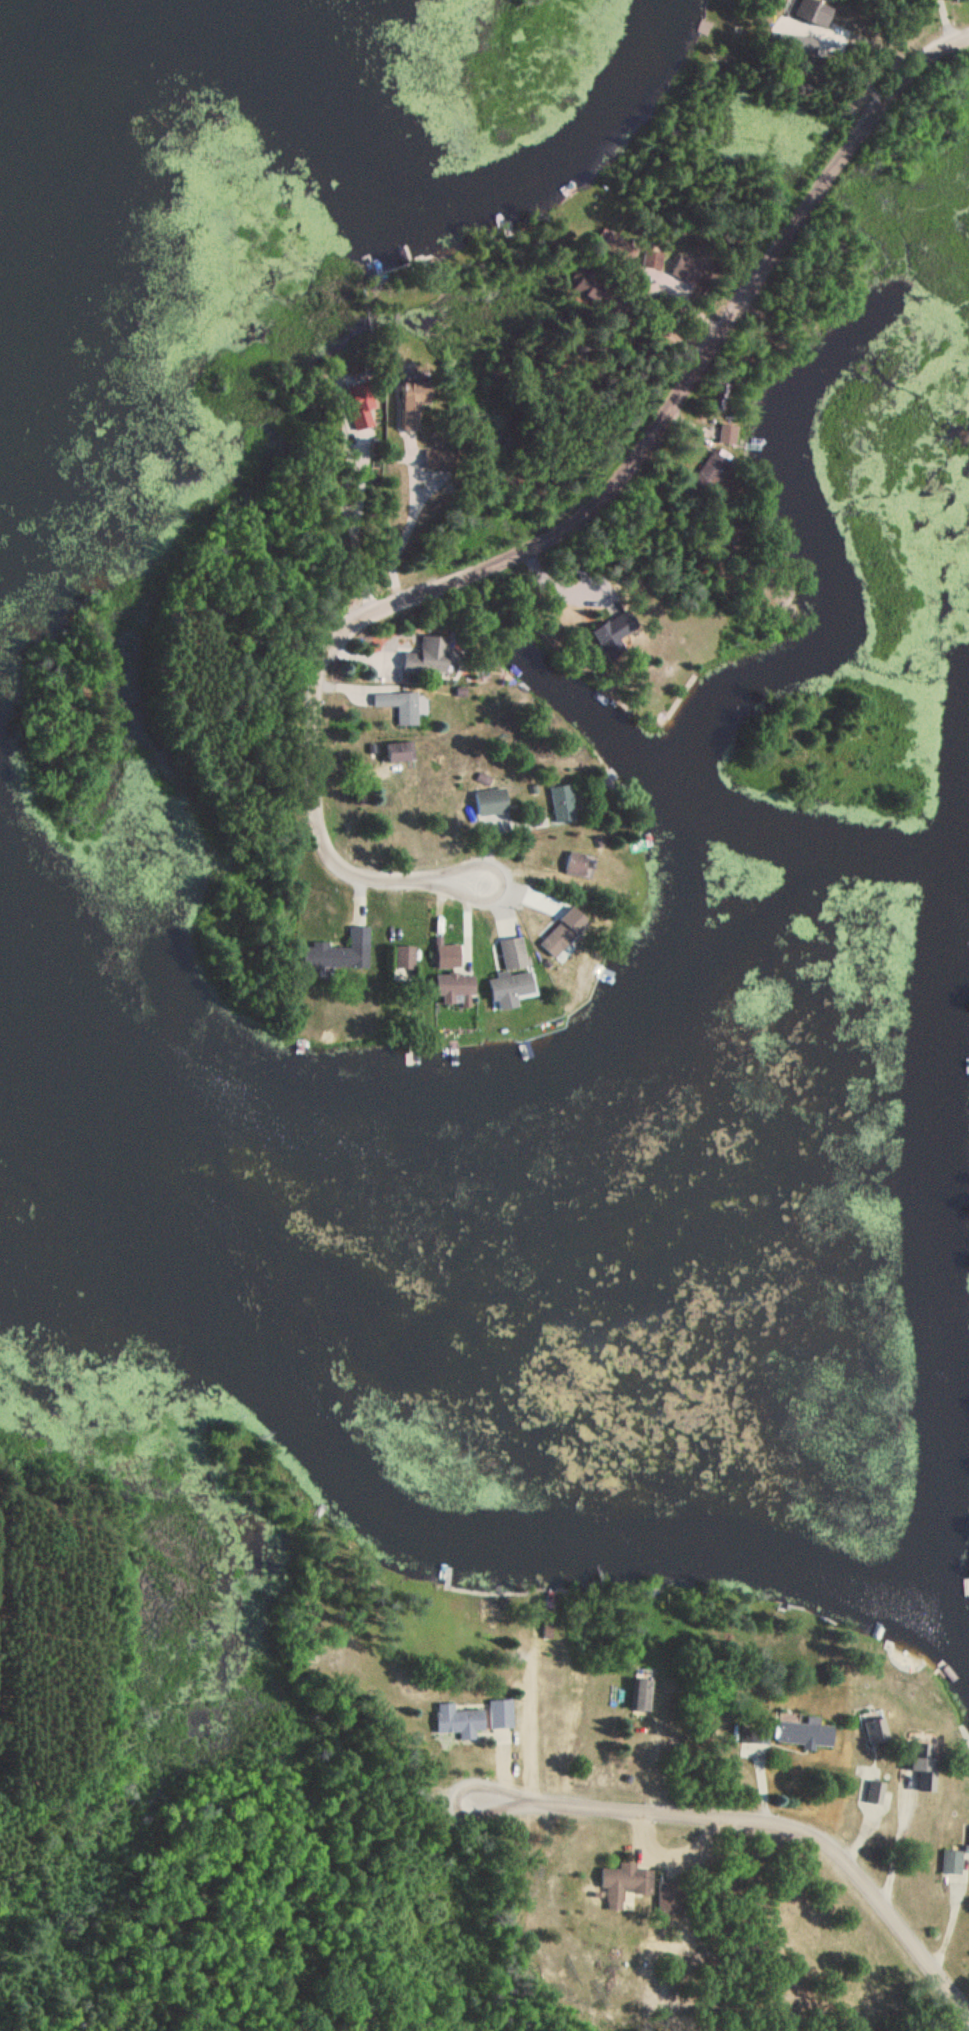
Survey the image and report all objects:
building: (820, 13)
building: (622, 250)
building: (652, 262)
building: (362, 407)
building: (415, 407)
building: (438, 459)
building: (711, 472)
road: (548, 535)
building: (615, 631)
building: (429, 657)
building: (408, 709)
building: (399, 752)
building: (491, 802)
building: (563, 804)
building: (577, 864)
building: (339, 954)
building: (404, 963)
building: (512, 976)
building: (456, 985)
building: (644, 1696)
building: (501, 1714)
building: (459, 1721)
building: (806, 1733)
building: (755, 1736)
road: (742, 1822)
building: (952, 1864)
building: (625, 1885)

